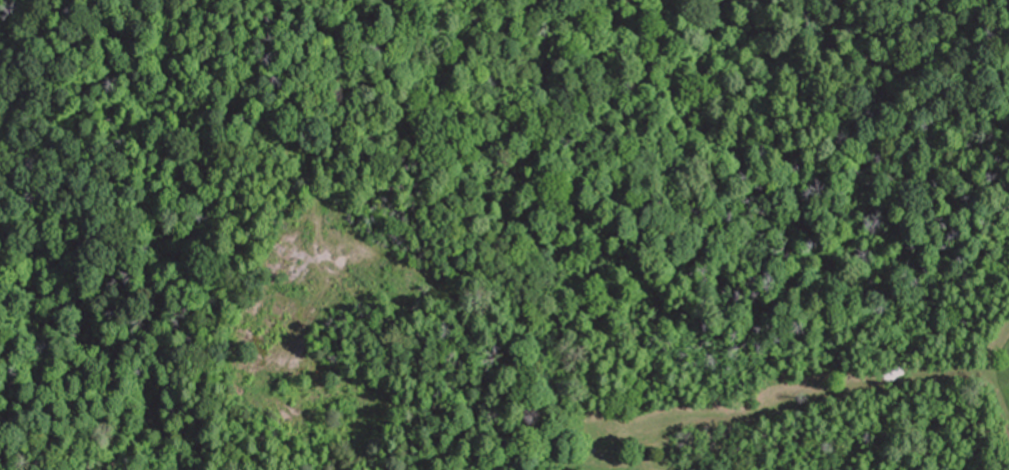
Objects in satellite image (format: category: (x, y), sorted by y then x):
road: (775, 391)

